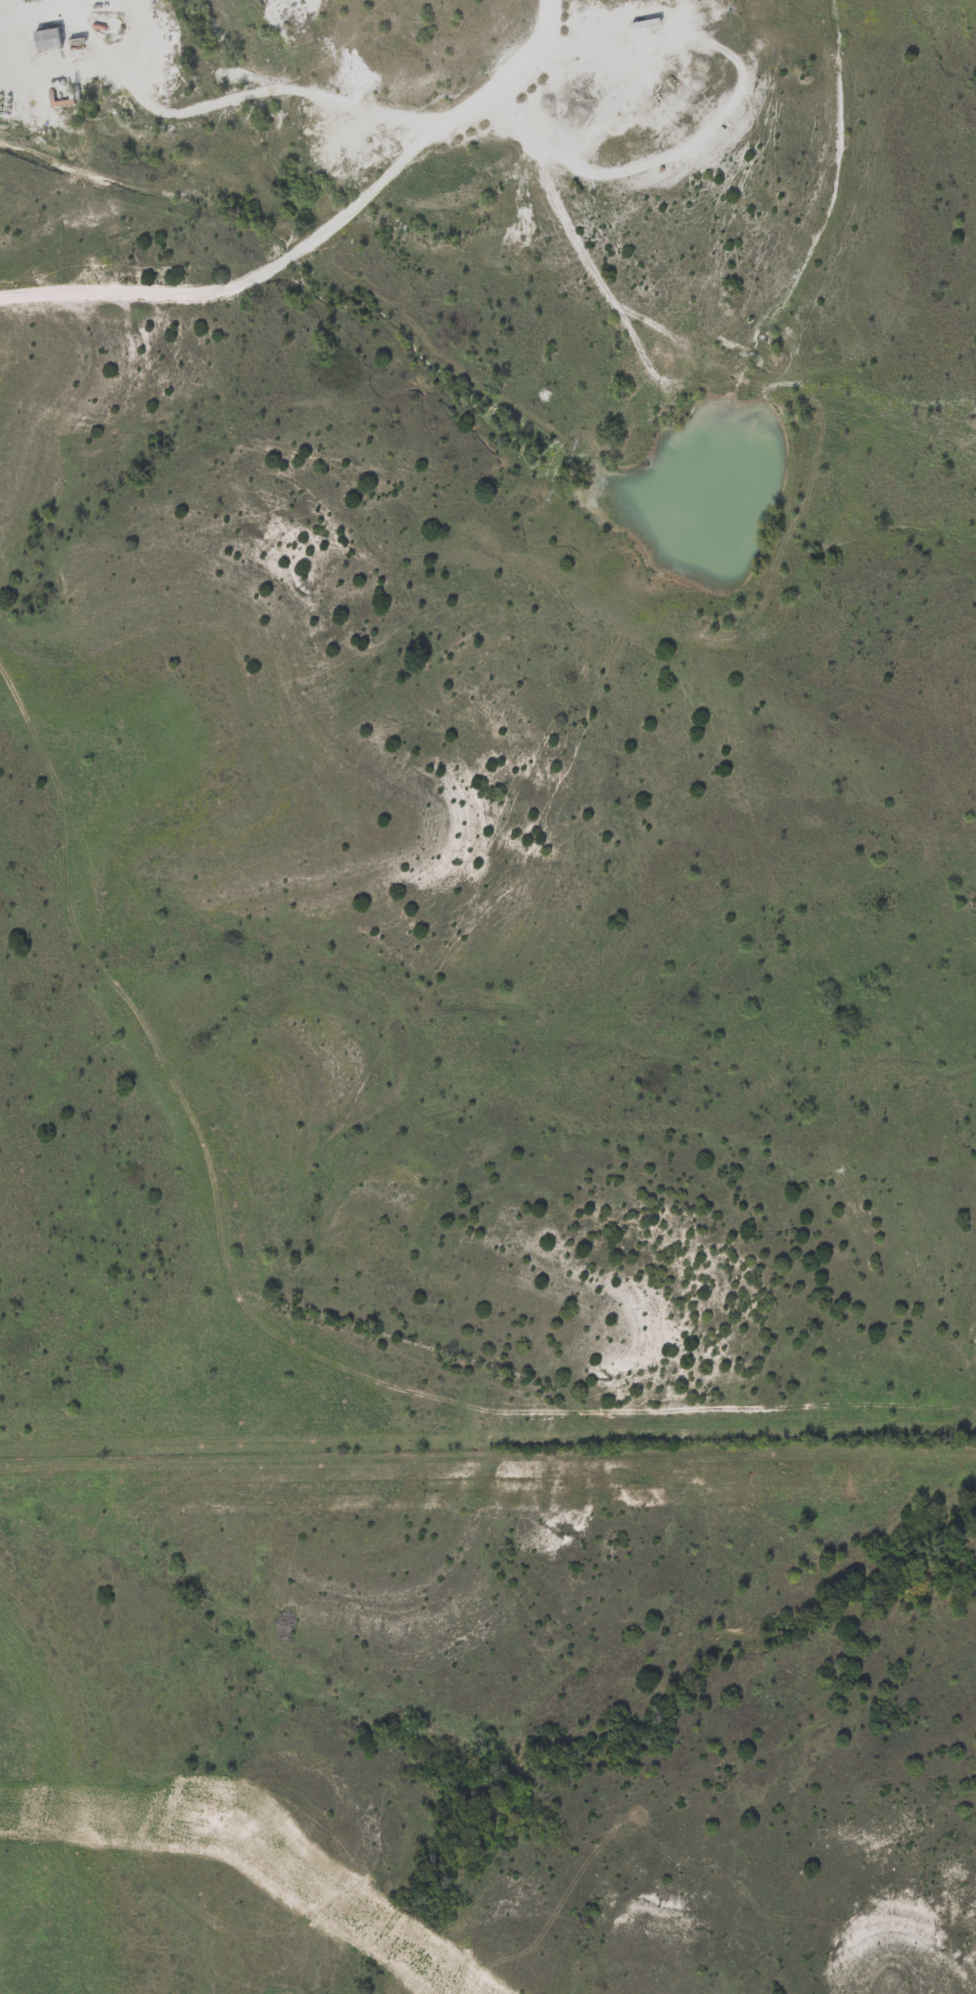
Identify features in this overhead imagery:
road: (18, 6)
road: (136, 24)
building: (45, 38)
road: (69, 66)
road: (269, 85)
building: (60, 101)
road: (317, 228)

